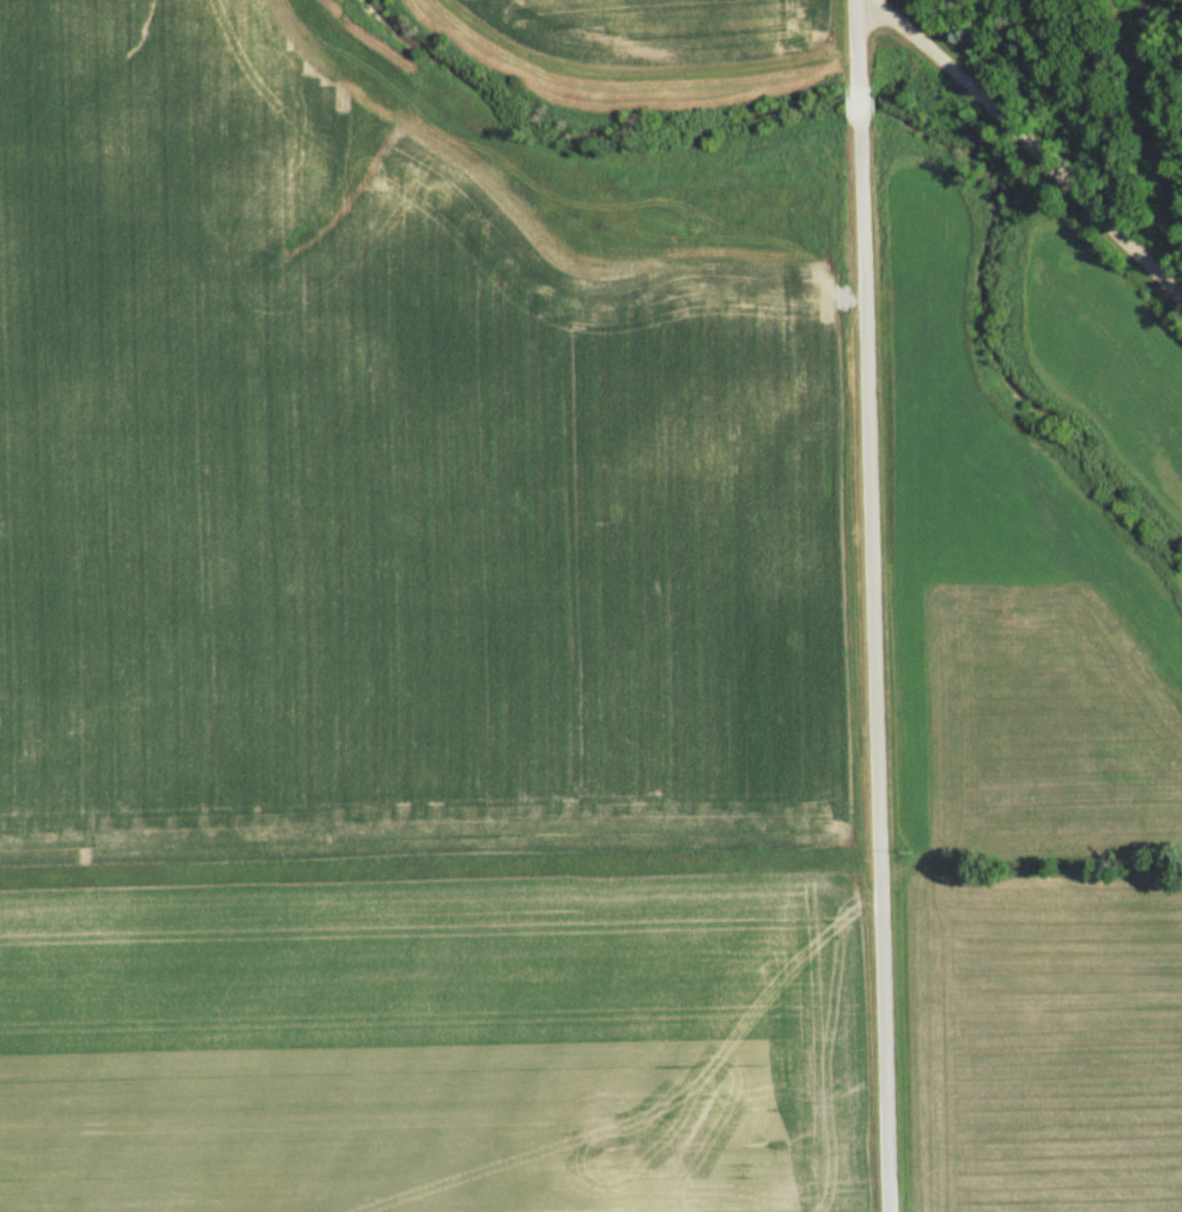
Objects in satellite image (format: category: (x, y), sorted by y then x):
road: (856, 38)
road: (857, 102)
road: (1026, 135)
road: (869, 668)

